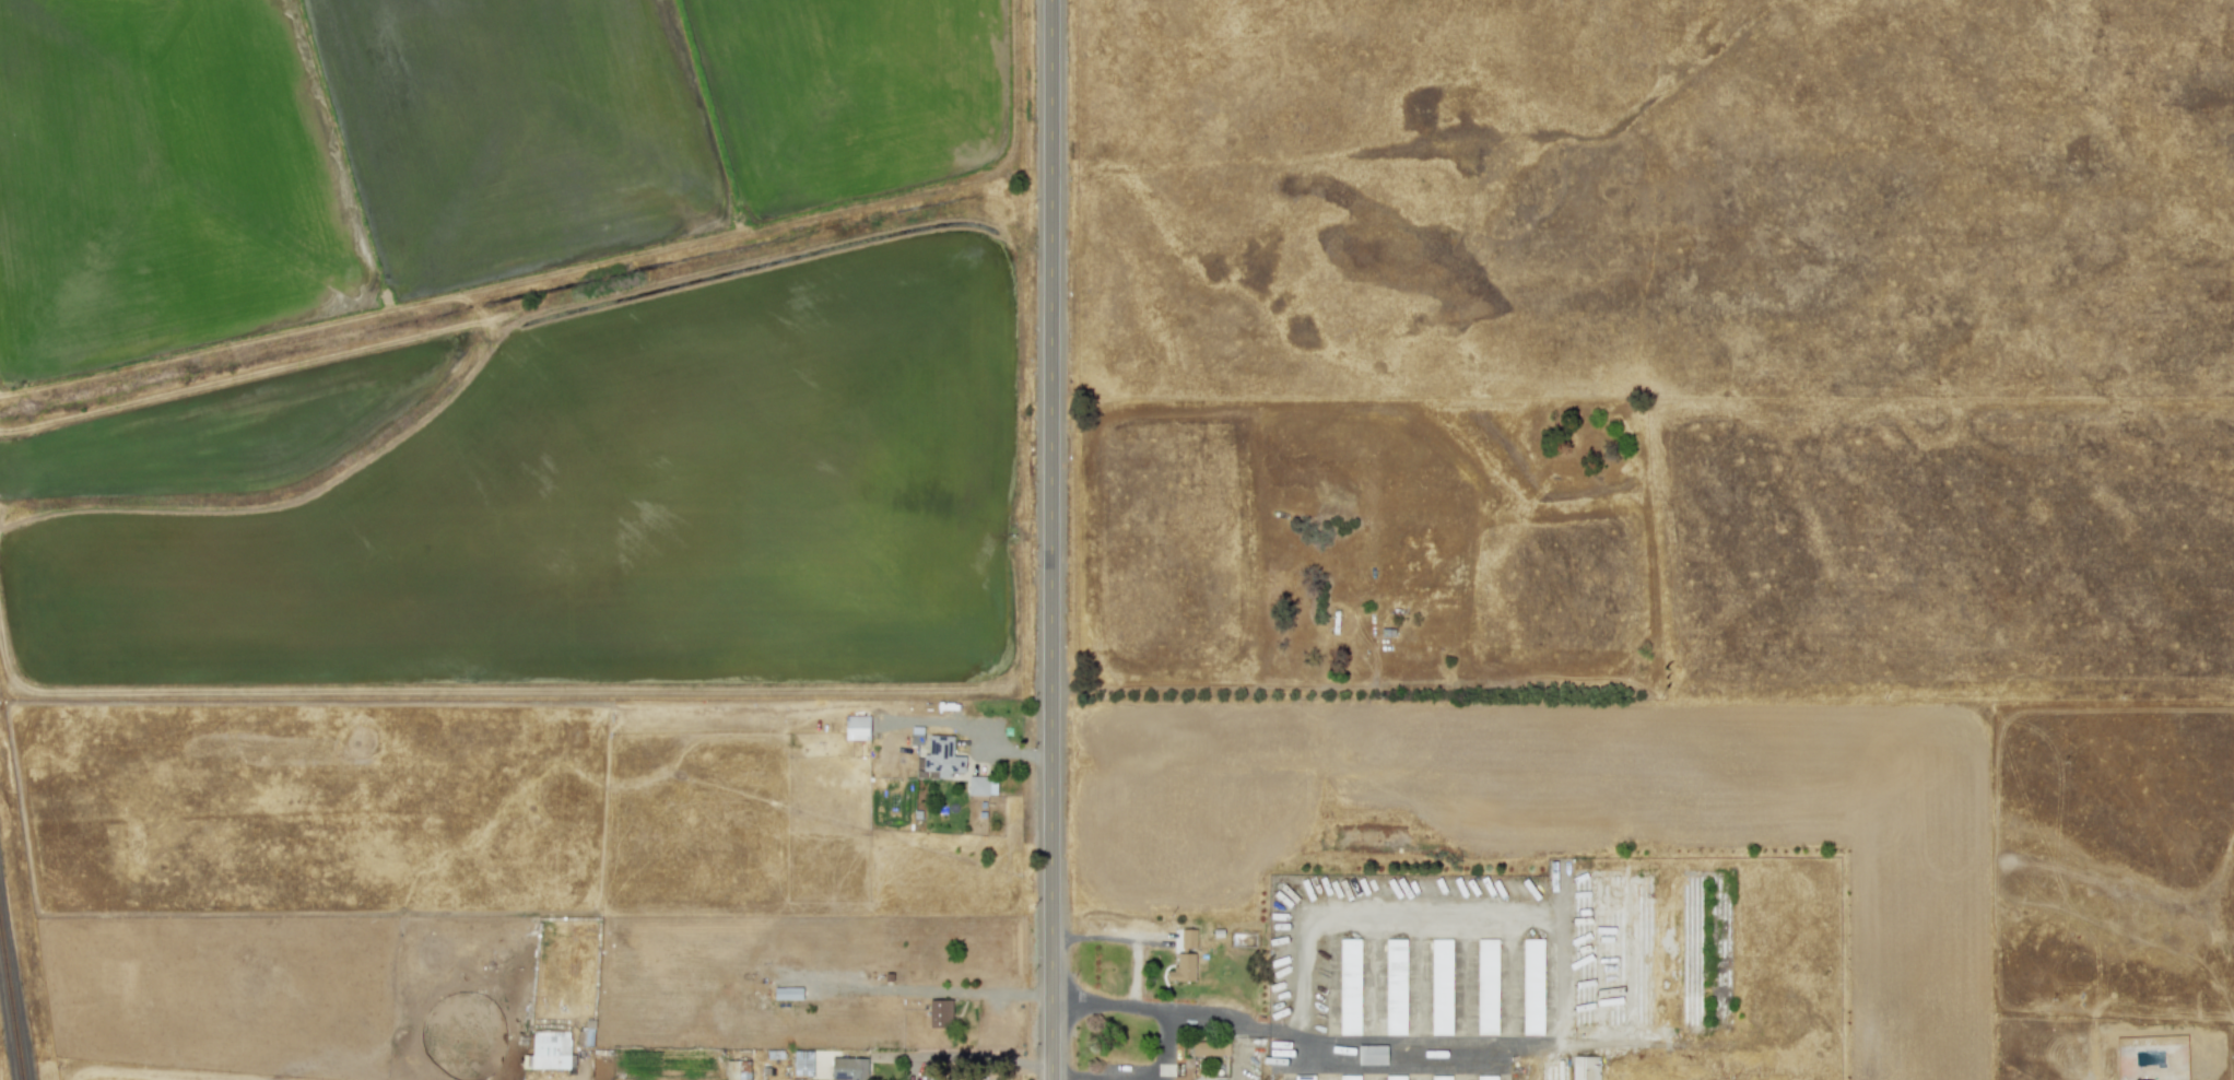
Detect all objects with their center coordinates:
crop: (524, 351)
road: (1050, 539)
building: (856, 727)
building: (916, 736)
building: (941, 758)
building: (981, 785)
building: (1187, 938)
building: (1181, 969)
building: (1349, 986)
building: (1439, 986)
building: (1485, 986)
building: (1395, 987)
building: (1531, 987)
railway: (13, 988)
building: (787, 994)
road: (997, 994)
building: (939, 1013)
road: (1271, 1037)
road: (1164, 1047)
building: (1210, 1048)
building: (548, 1050)
building: (1371, 1055)
road: (965, 1058)
building: (802, 1063)
building: (847, 1068)
building: (1584, 1068)
building: (737, 1070)
building: (1303, 1077)
building: (1349, 1077)
building: (1439, 1077)
building: (1394, 1078)
building: (1485, 1078)

